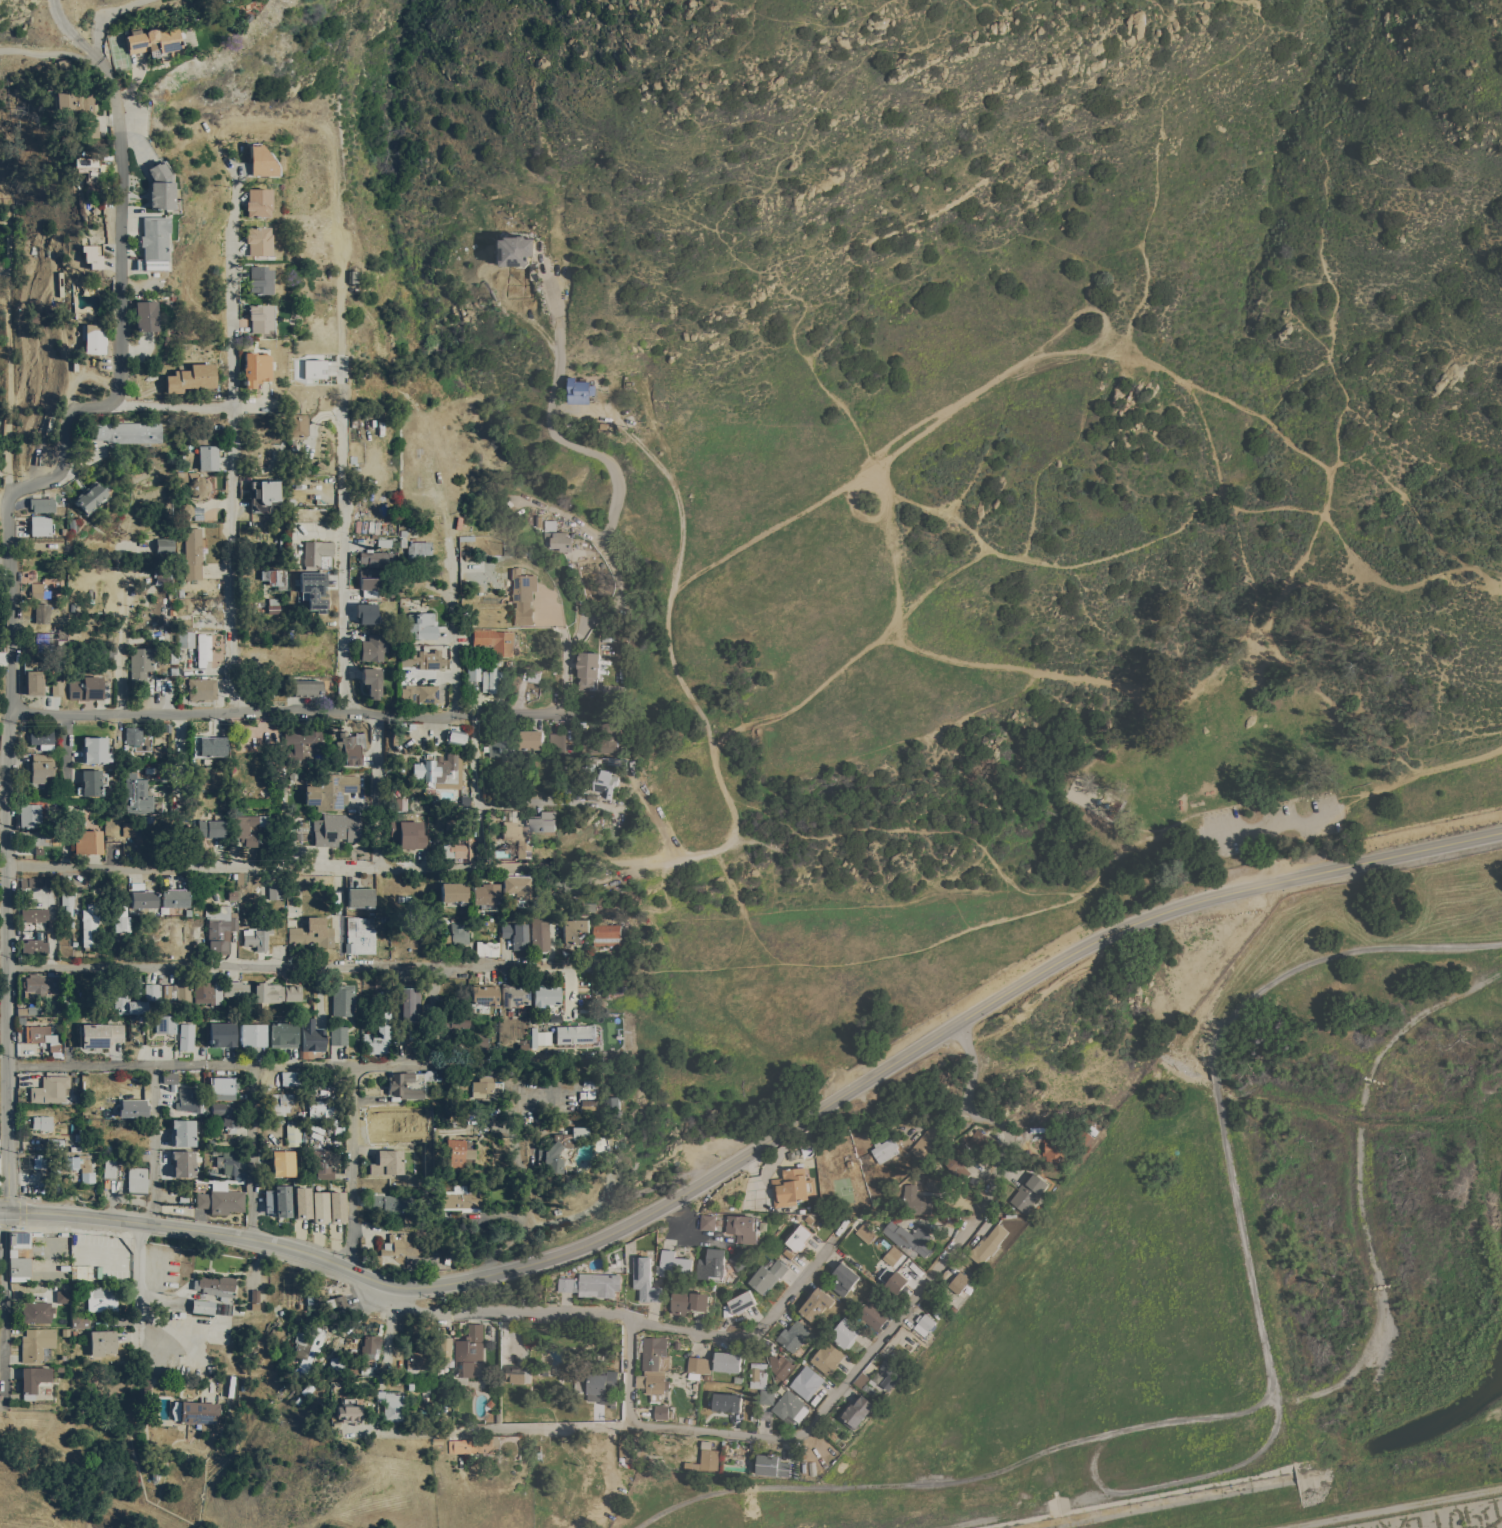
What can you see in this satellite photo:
road: (106, 16)
road: (71, 32)
building: (153, 40)
road: (50, 54)
building: (64, 100)
building: (87, 103)
park: (899, 152)
building: (258, 160)
building: (88, 167)
park: (1368, 174)
building: (159, 185)
building: (256, 202)
road: (119, 225)
building: (256, 240)
building: (153, 242)
building: (515, 250)
building: (91, 257)
road: (231, 266)
building: (258, 279)
building: (144, 315)
building: (258, 317)
road: (11, 335)
building: (94, 338)
building: (254, 368)
building: (313, 368)
building: (189, 377)
building: (578, 391)
road: (174, 399)
road: (550, 413)
building: (295, 424)
building: (126, 431)
road: (65, 444)
building: (207, 457)
building: (197, 486)
road: (344, 492)
building: (263, 493)
building: (88, 496)
building: (40, 504)
building: (38, 525)
building: (554, 537)
building: (164, 544)
building: (417, 548)
building: (316, 553)
road: (234, 557)
building: (374, 557)
building: (197, 563)
building: (368, 578)
building: (36, 589)
building: (313, 589)
building: (521, 595)
road: (11, 604)
building: (273, 605)
building: (41, 612)
building: (365, 612)
building: (420, 625)
road: (585, 625)
road: (121, 629)
road: (454, 632)
building: (186, 639)
building: (494, 640)
park: (1018, 645)
building: (373, 647)
building: (202, 649)
road: (671, 664)
building: (139, 665)
building: (587, 671)
building: (473, 674)
building: (490, 679)
building: (32, 681)
building: (370, 681)
building: (84, 687)
building: (306, 687)
building: (55, 688)
building: (200, 688)
building: (418, 692)
road: (284, 713)
building: (403, 724)
building: (133, 734)
road: (180, 736)
building: (455, 736)
building: (42, 738)
building: (605, 738)
building: (529, 739)
building: (303, 742)
building: (555, 743)
building: (209, 745)
building: (351, 746)
building: (94, 748)
building: (502, 750)
building: (42, 766)
building: (437, 767)
building: (92, 782)
building: (604, 785)
building: (332, 790)
road: (378, 790)
building: (136, 791)
road: (476, 791)
road: (536, 802)
road: (1222, 808)
building: (30, 814)
building: (546, 822)
road: (1276, 823)
parking lot: (1263, 825)
building: (211, 827)
building: (247, 827)
building: (337, 828)
building: (136, 831)
building: (408, 833)
building: (516, 836)
building: (34, 837)
building: (88, 841)
building: (455, 849)
road: (1273, 852)
road: (314, 866)
building: (570, 880)
building: (515, 886)
building: (275, 891)
building: (452, 891)
building: (484, 895)
building: (175, 897)
building: (359, 897)
building: (143, 898)
building: (66, 902)
building: (34, 913)
building: (119, 918)
building: (90, 928)
building: (218, 928)
building: (198, 930)
building: (574, 930)
building: (460, 932)
building: (176, 933)
building: (312, 933)
building: (540, 933)
building: (257, 934)
building: (360, 934)
building: (516, 934)
building: (605, 934)
building: (34, 946)
building: (487, 947)
road: (1330, 957)
road: (9, 960)
road: (313, 964)
building: (41, 983)
building: (235, 987)
building: (607, 987)
building: (179, 988)
building: (152, 991)
building: (207, 991)
building: (275, 992)
building: (514, 993)
building: (544, 993)
building: (484, 994)
building: (127, 995)
building: (343, 999)
building: (406, 1004)
road: (982, 1006)
building: (29, 1009)
building: (450, 1022)
building: (165, 1023)
building: (37, 1033)
building: (576, 1033)
building: (100, 1034)
building: (222, 1034)
building: (252, 1034)
building: (283, 1034)
building: (311, 1035)
building: (339, 1035)
building: (367, 1035)
building: (186, 1036)
building: (544, 1037)
building: (480, 1041)
road: (513, 1062)
road: (209, 1064)
road: (1213, 1076)
building: (169, 1077)
building: (290, 1077)
building: (402, 1085)
building: (481, 1085)
building: (222, 1087)
building: (50, 1088)
building: (190, 1098)
building: (281, 1103)
building: (584, 1105)
building: (612, 1106)
building: (134, 1107)
building: (320, 1107)
building: (228, 1114)
building: (367, 1114)
building: (42, 1121)
building: (184, 1130)
building: (293, 1132)
building: (74, 1133)
building: (978, 1138)
building: (598, 1141)
building: (926, 1142)
building: (559, 1147)
building: (458, 1149)
building: (884, 1149)
road: (253, 1150)
building: (1055, 1150)
building: (320, 1161)
building: (959, 1161)
building: (38, 1162)
building: (184, 1162)
building: (283, 1162)
building: (385, 1162)
building: (229, 1164)
road: (353, 1165)
building: (81, 1166)
building: (109, 1167)
building: (137, 1179)
building: (933, 1184)
road: (1358, 1186)
building: (791, 1187)
building: (1029, 1193)
building: (459, 1198)
road: (154, 1199)
building: (222, 1200)
building: (278, 1200)
road: (21, 1201)
building: (914, 1201)
building: (302, 1202)
building: (391, 1204)
building: (319, 1206)
building: (337, 1206)
traffic signals: (7, 1209)
building: (712, 1222)
road: (5, 1226)
road: (16, 1227)
building: (743, 1227)
building: (865, 1233)
road: (253, 1236)
building: (799, 1237)
building: (910, 1237)
building: (19, 1238)
building: (988, 1244)
building: (401, 1245)
building: (892, 1255)
building: (430, 1256)
building: (739, 1260)
building: (675, 1264)
building: (712, 1264)
building: (19, 1265)
building: (767, 1276)
building: (843, 1278)
building: (646, 1280)
building: (896, 1282)
building: (959, 1282)
building: (217, 1284)
building: (566, 1284)
building: (599, 1284)
building: (63, 1295)
building: (102, 1297)
building: (337, 1301)
building: (689, 1302)
building: (741, 1302)
building: (816, 1304)
building: (202, 1305)
road: (5, 1309)
building: (37, 1311)
building: (872, 1315)
road: (628, 1316)
road: (392, 1319)
building: (80, 1321)
building: (923, 1323)
building: (845, 1333)
building: (793, 1335)
building: (102, 1341)
building: (36, 1343)
building: (370, 1345)
building: (307, 1348)
building: (443, 1350)
building: (469, 1352)
building: (826, 1357)
building: (417, 1359)
building: (727, 1362)
building: (338, 1365)
building: (698, 1366)
building: (780, 1366)
building: (654, 1367)
building: (516, 1372)
road: (629, 1372)
building: (758, 1374)
building: (888, 1375)
building: (34, 1380)
building: (806, 1382)
building: (599, 1386)
building: (869, 1393)
building: (766, 1396)
building: (727, 1402)
building: (391, 1403)
building: (789, 1406)
road: (824, 1409)
building: (198, 1412)
building: (347, 1412)
building: (661, 1412)
building: (855, 1412)
road: (2, 1414)
road: (1107, 1433)
building: (473, 1445)
building: (630, 1449)
building: (709, 1459)
building: (156, 1466)
building: (772, 1466)
road: (1317, 1469)
building: (155, 1474)
road: (1180, 1481)
road: (1394, 1507)

